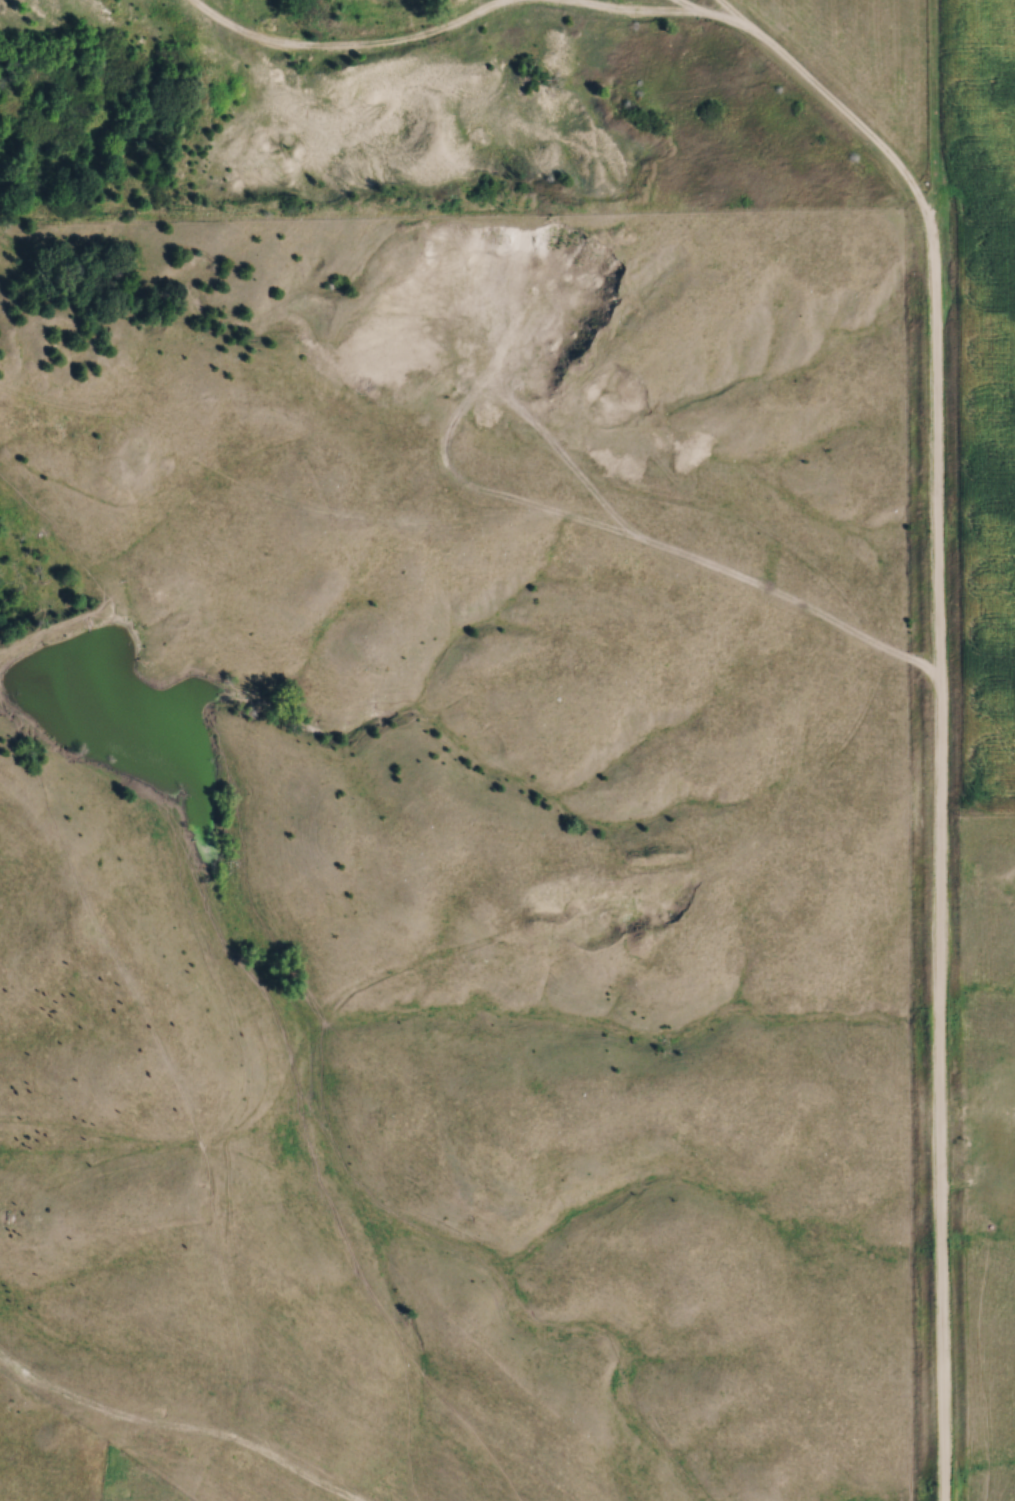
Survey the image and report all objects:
road: (813, 92)
road: (940, 864)

